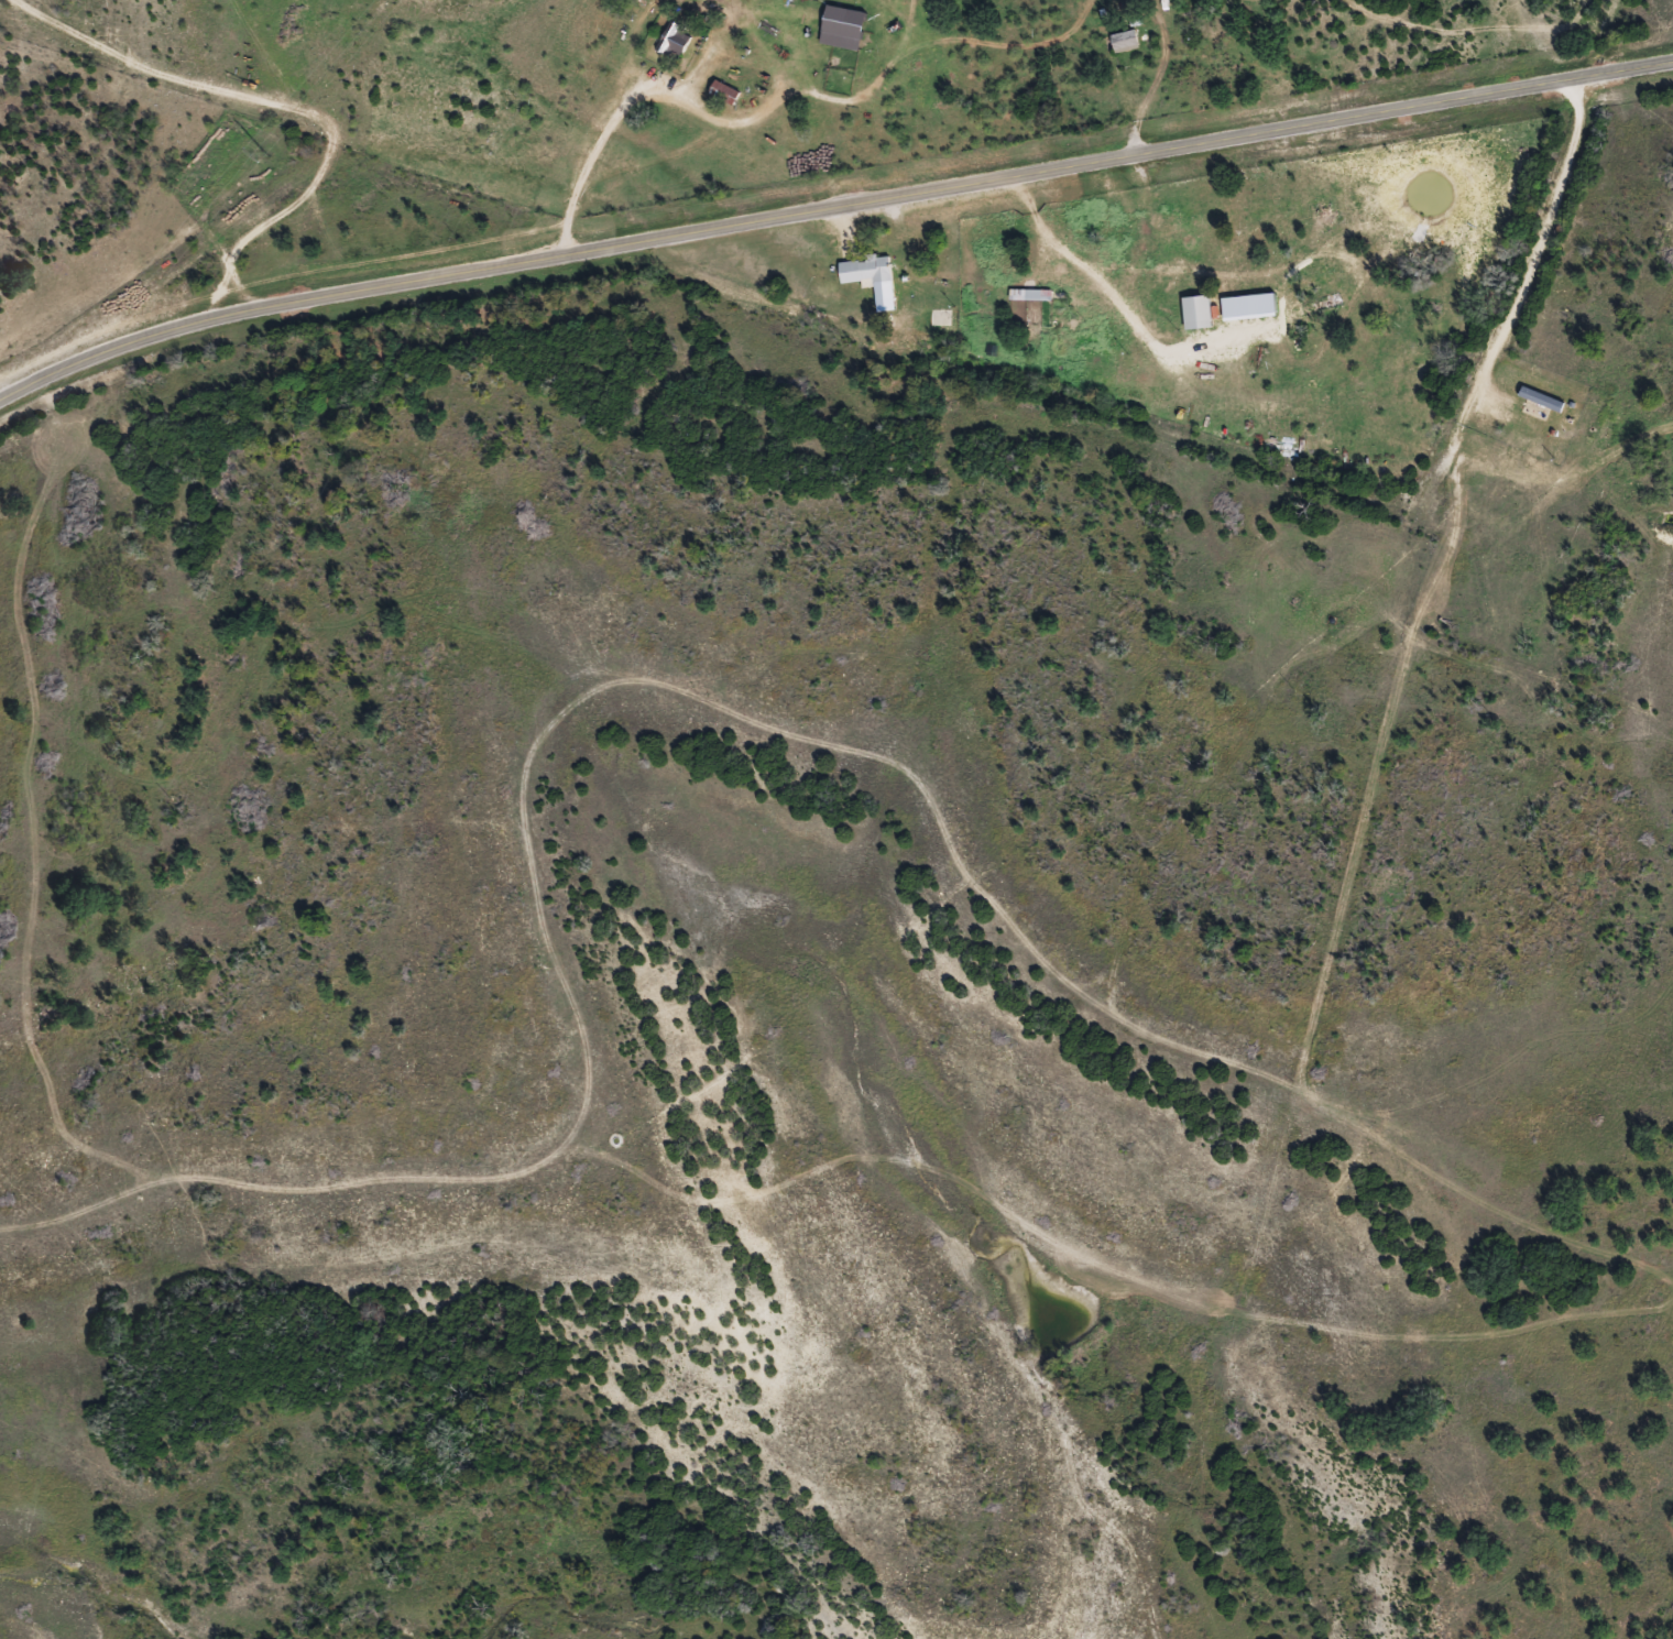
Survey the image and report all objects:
building: (848, 28)
building: (678, 41)
building: (1128, 41)
building: (729, 92)
power tower: (266, 154)
road: (829, 208)
building: (871, 271)
building: (1035, 294)
building: (1202, 310)
building: (1534, 423)
road: (1206, 470)

